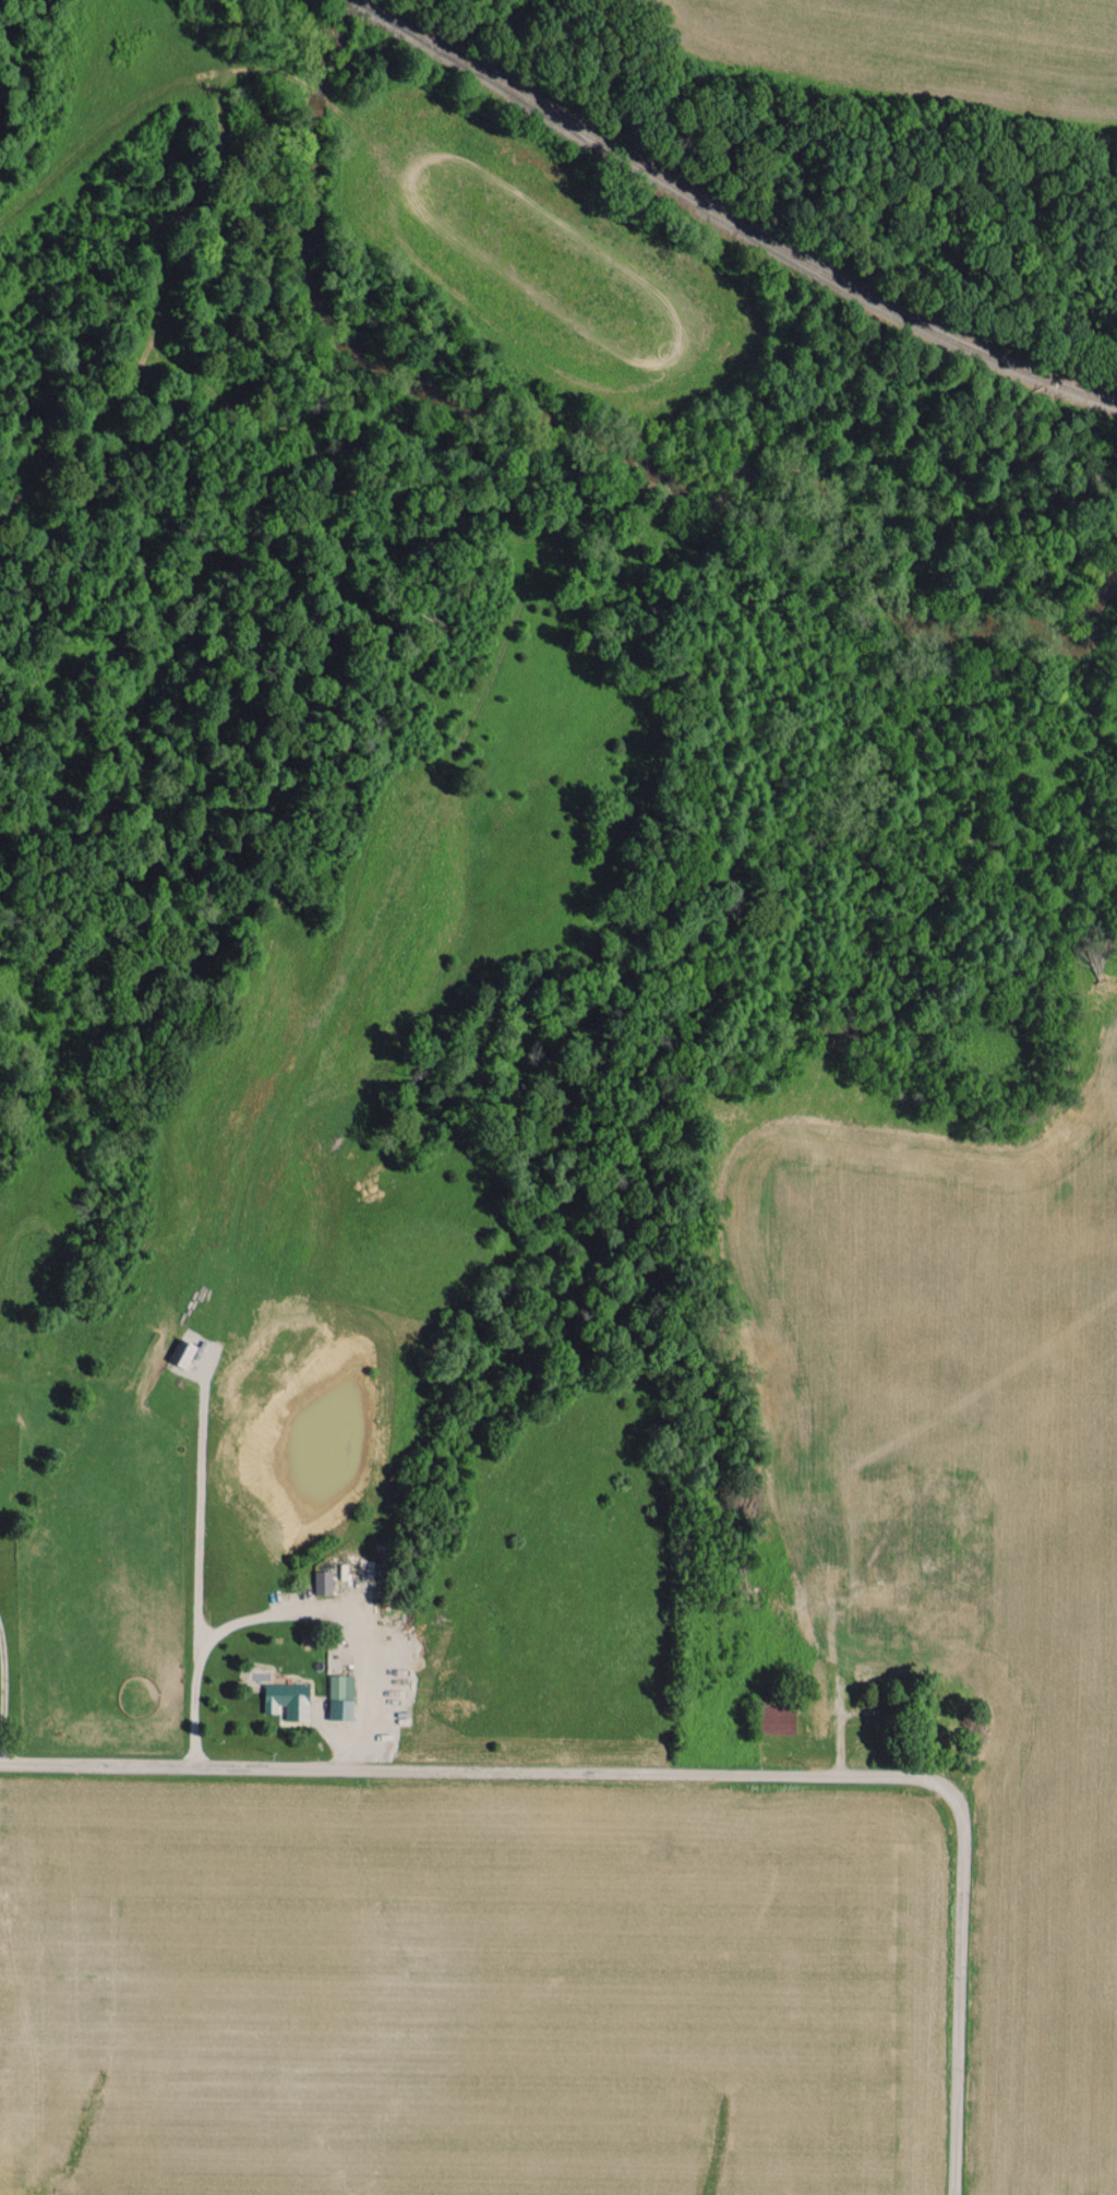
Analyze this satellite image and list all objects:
railway: (734, 218)
building: (323, 1580)
road: (290, 1611)
building: (341, 1695)
building: (288, 1698)
road: (443, 1762)
road: (960, 1979)

